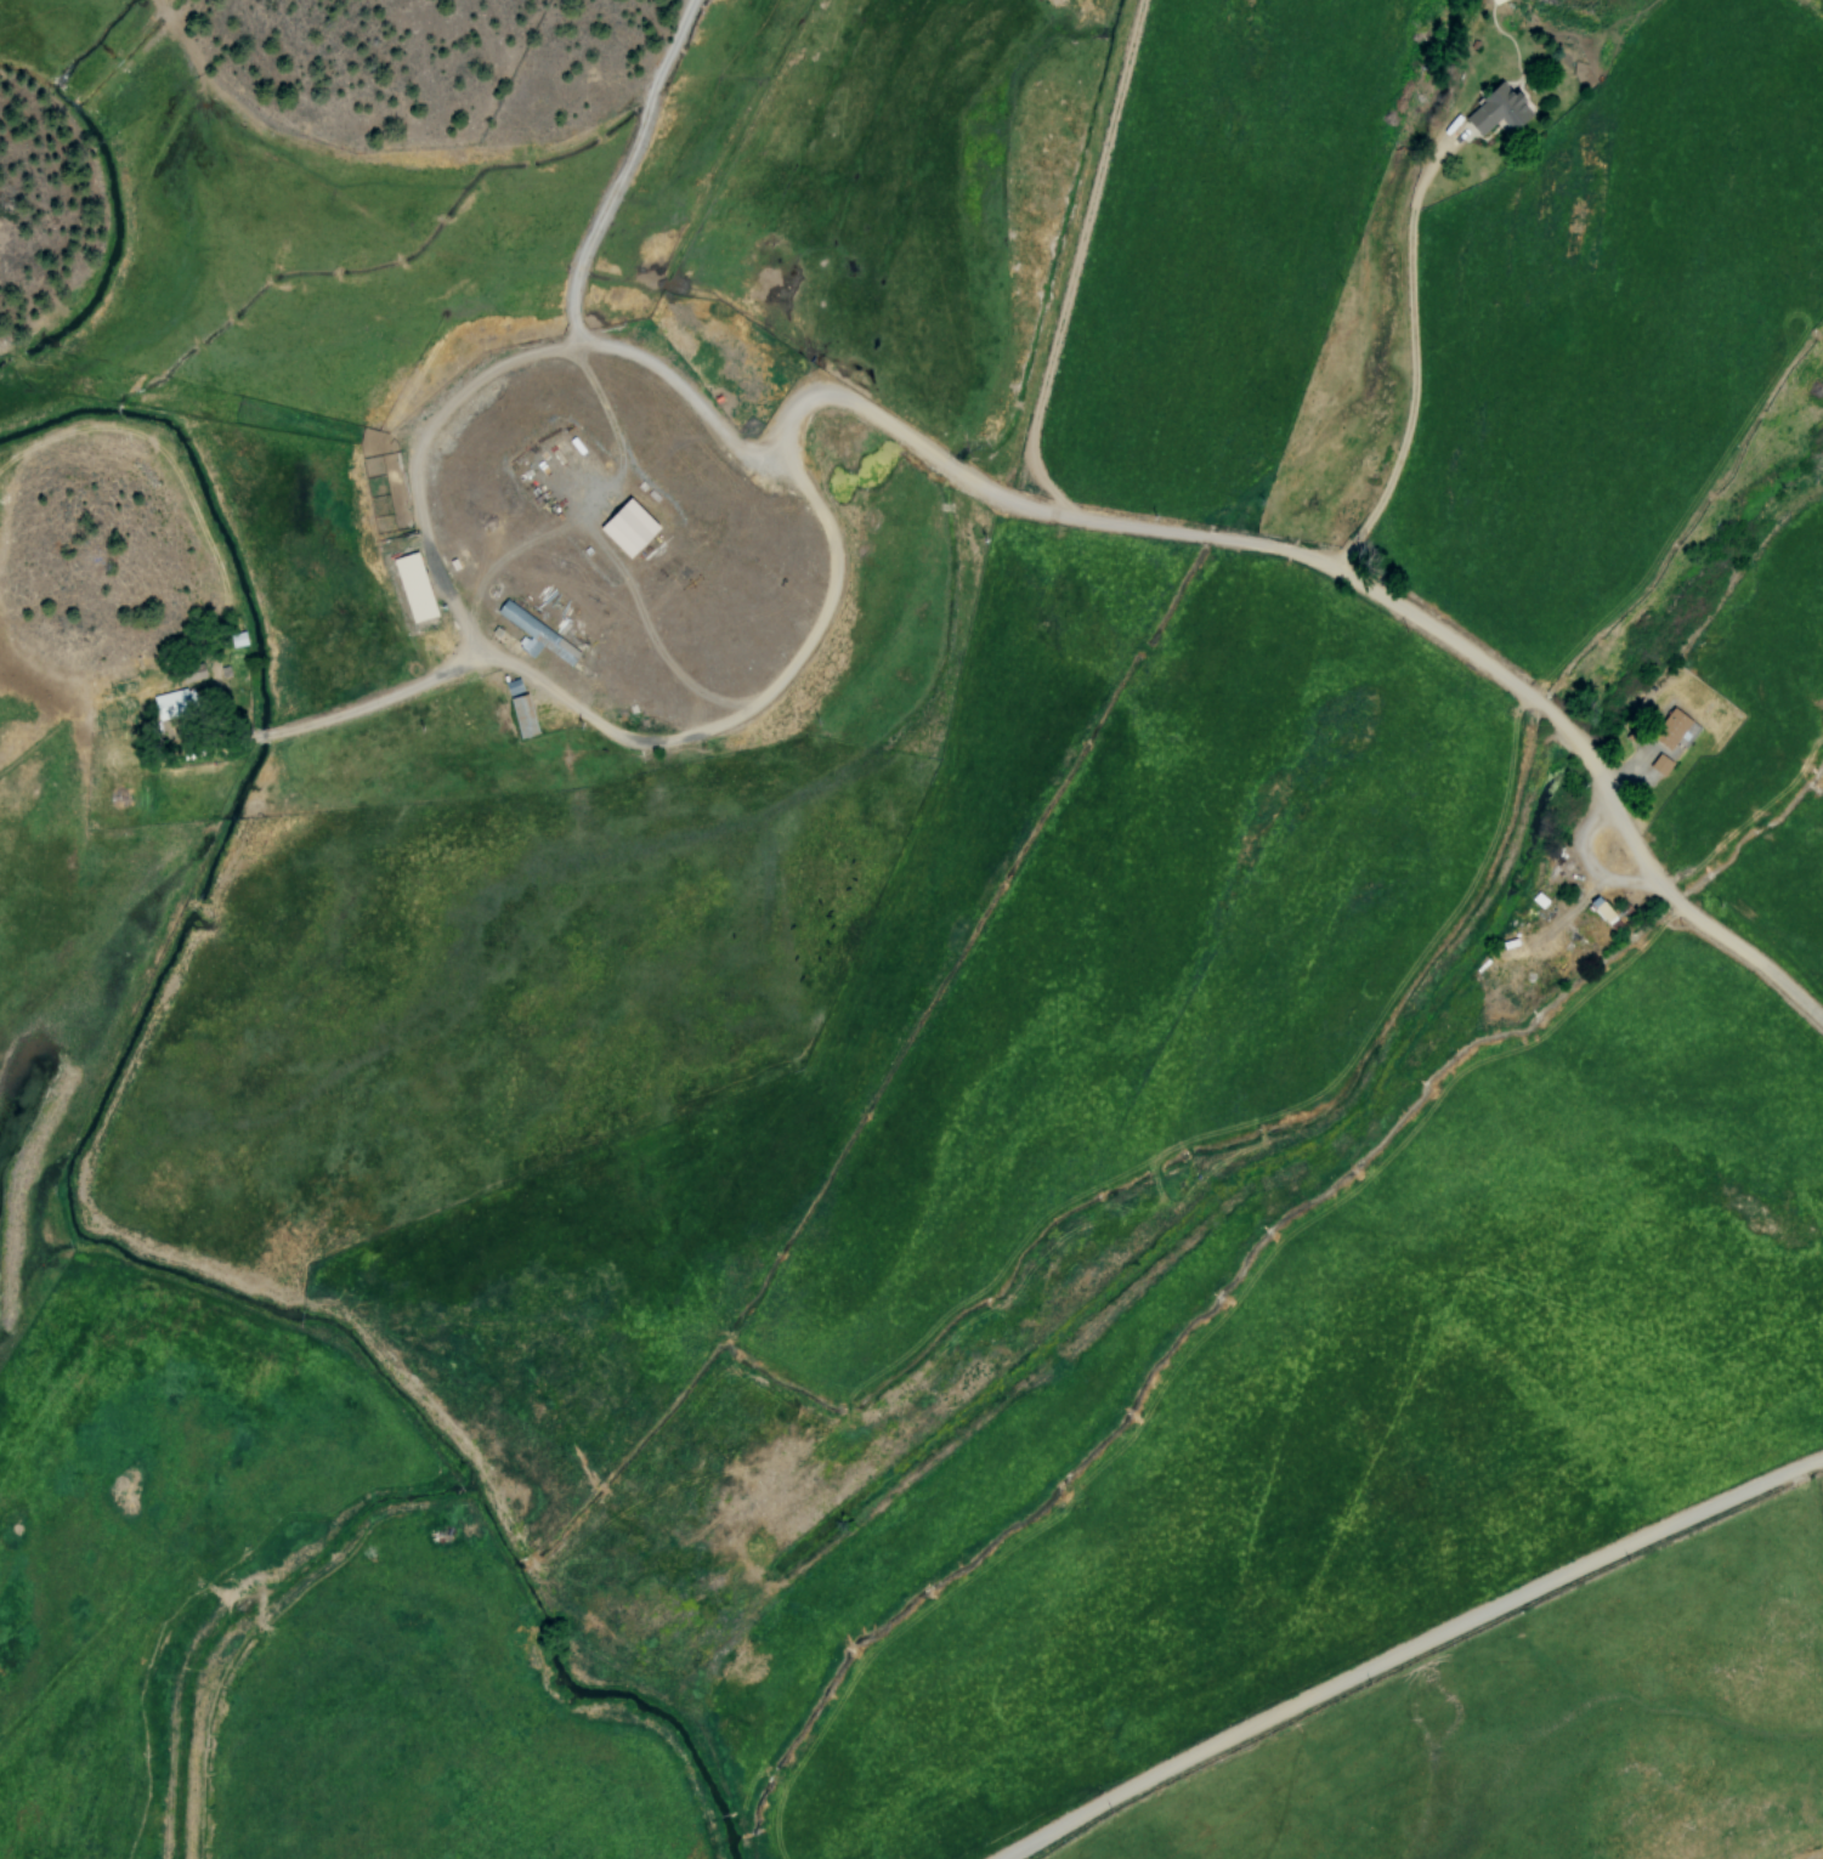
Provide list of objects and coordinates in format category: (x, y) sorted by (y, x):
building: (1494, 1)
building: (1496, 109)
road: (1074, 253)
road: (1414, 351)
road: (908, 440)
building: (627, 527)
building: (413, 586)
building: (537, 634)
building: (172, 702)
building: (522, 715)
building: (1670, 727)
building: (1660, 764)
building: (1604, 913)
road: (1406, 1647)

